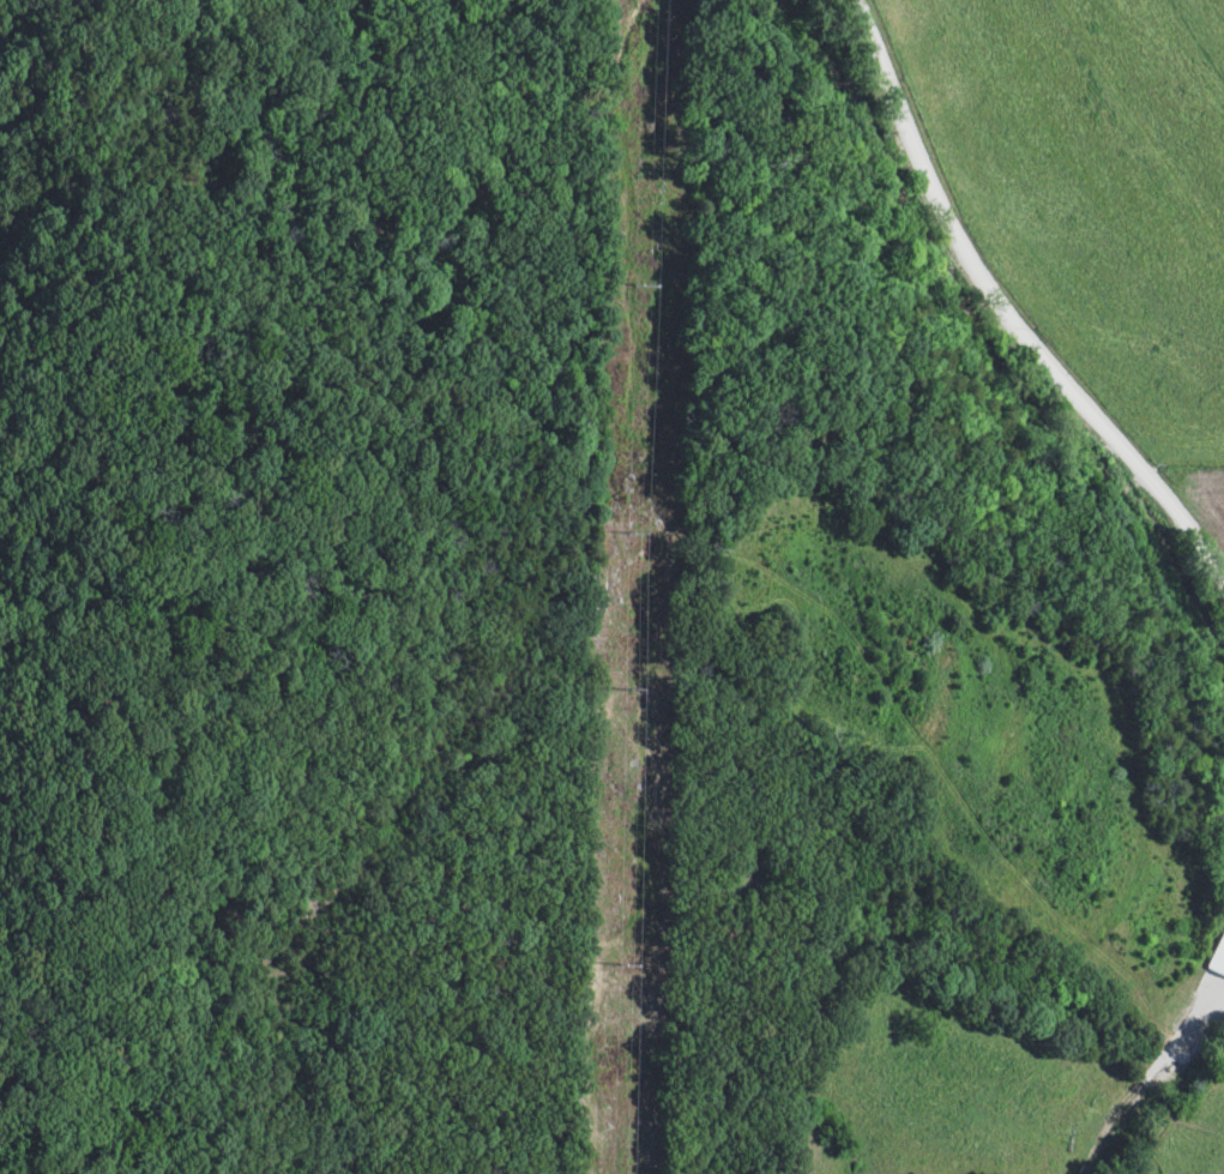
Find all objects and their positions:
power tower: (640, 281)
road: (1006, 314)
power tower: (629, 688)
building: (1218, 959)
power tower: (617, 962)

